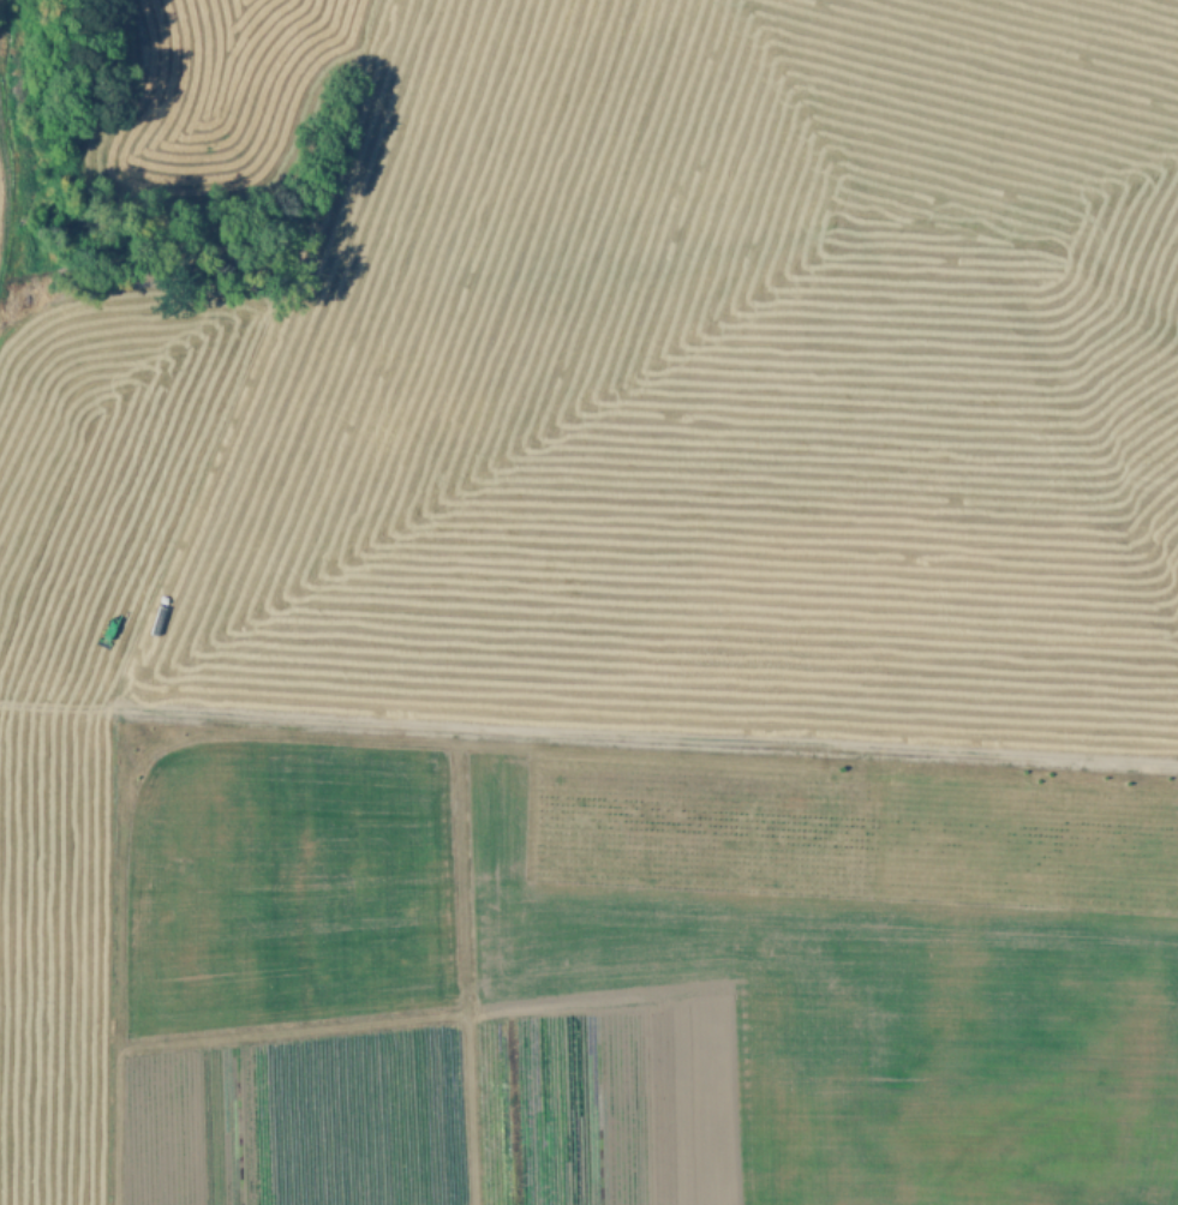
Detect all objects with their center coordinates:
crop: (714, 380)
road: (588, 738)
road: (464, 966)
crop: (819, 979)
road: (215, 1038)

